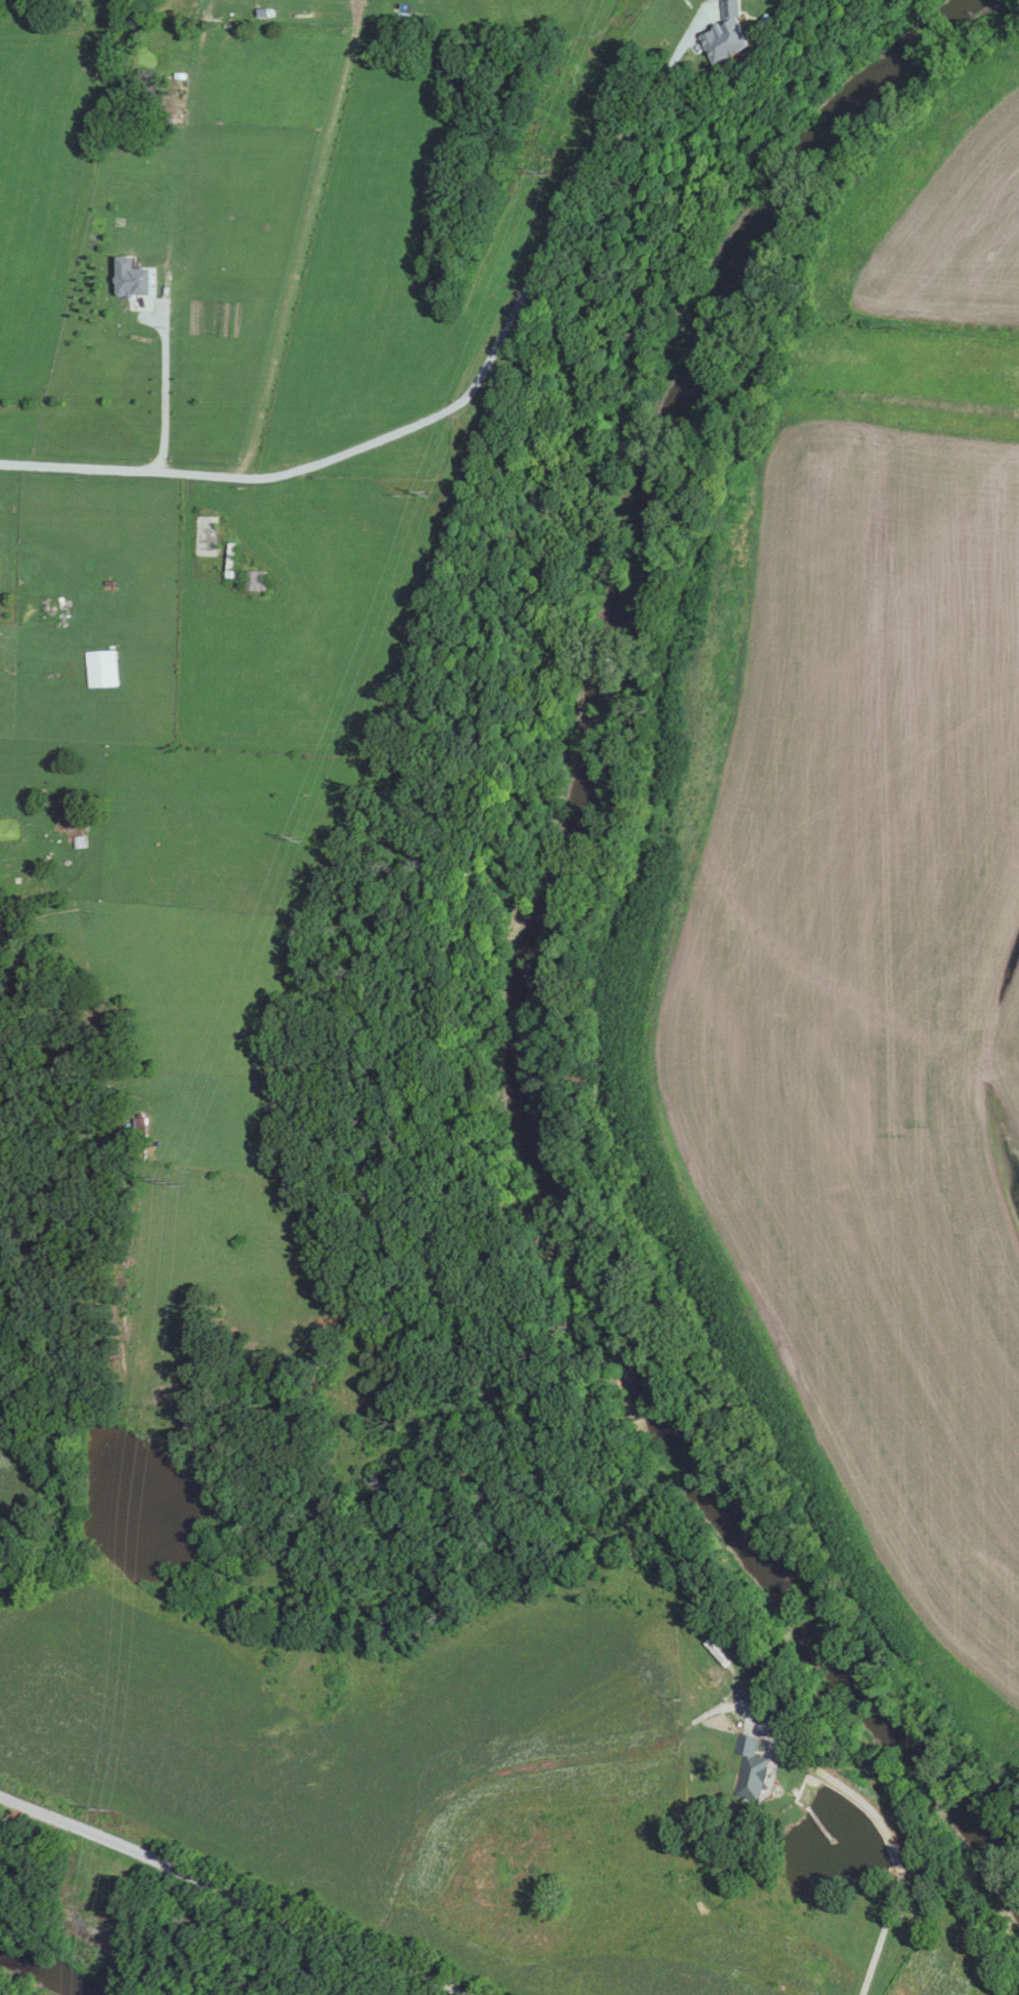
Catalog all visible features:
building: (722, 36)
power tower: (544, 170)
road: (159, 397)
road: (292, 470)
power tower: (422, 489)
building: (206, 531)
building: (228, 560)
building: (251, 582)
power tower: (295, 836)
river: (507, 967)
building: (138, 1126)
power tower: (160, 1176)
building: (748, 1768)
power tower: (107, 1805)
road: (228, 1893)
river: (34, 1976)

